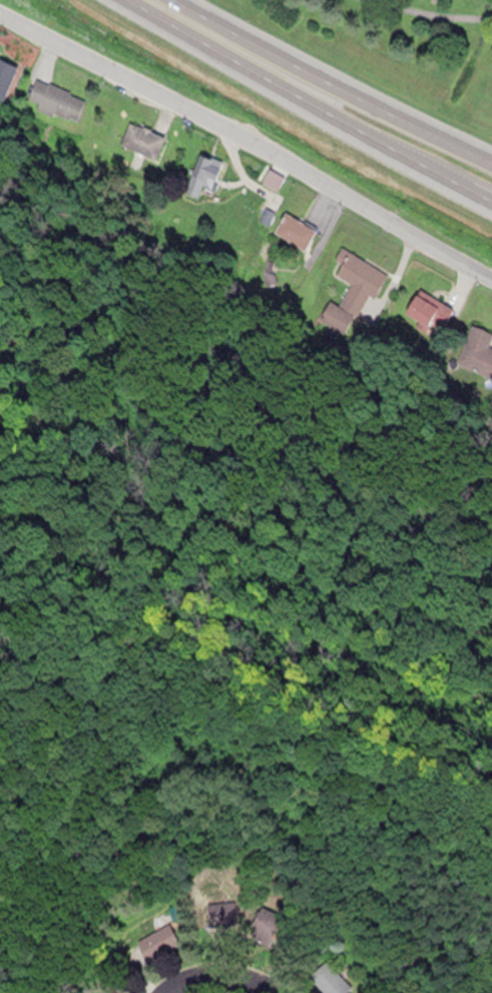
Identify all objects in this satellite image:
road: (432, 13)
park: (403, 45)
building: (6, 70)
road: (331, 83)
road: (289, 92)
building: (59, 98)
building: (146, 130)
road: (247, 144)
building: (204, 166)
road: (472, 190)
building: (292, 229)
building: (350, 287)
building: (428, 310)
building: (476, 348)
road: (114, 634)
park: (263, 634)
building: (223, 916)
building: (269, 923)
building: (158, 935)
building: (327, 972)
road: (202, 977)
road: (261, 981)

